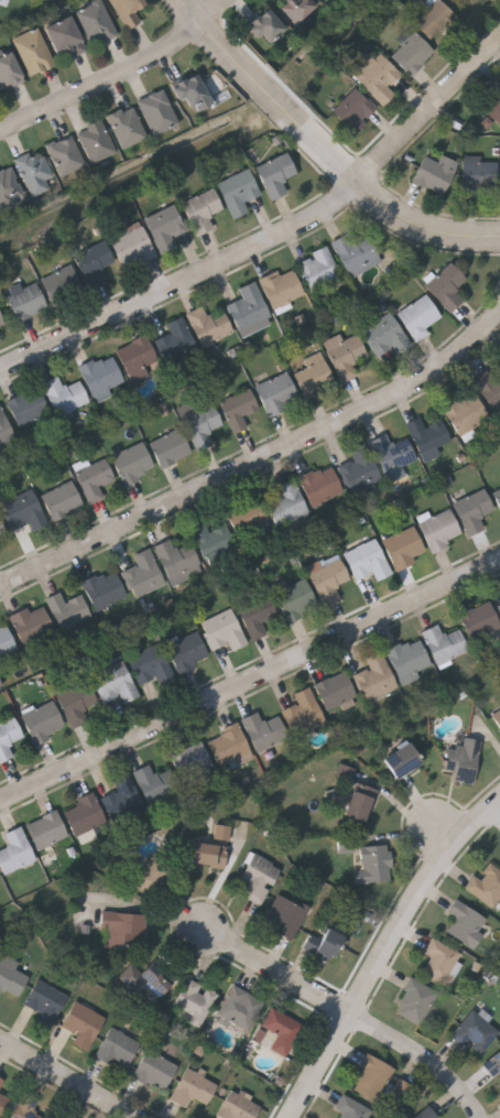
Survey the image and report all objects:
building: (327, 0)
building: (3, 2)
building: (296, 9)
building: (127, 11)
park: (478, 12)
building: (433, 17)
building: (95, 24)
building: (265, 29)
building: (65, 37)
building: (411, 51)
building: (32, 52)
building: (8, 69)
road: (119, 76)
building: (378, 77)
building: (191, 93)
building: (494, 101)
building: (352, 109)
building: (155, 112)
building: (124, 127)
building: (95, 141)
road: (325, 148)
building: (64, 155)
building: (33, 171)
building: (433, 171)
building: (274, 173)
building: (479, 175)
building: (8, 186)
building: (237, 191)
building: (200, 208)
building: (164, 226)
road: (273, 240)
building: (131, 246)
building: (354, 252)
building: (93, 261)
building: (316, 267)
building: (61, 283)
building: (446, 284)
building: (281, 285)
building: (25, 299)
building: (247, 305)
building: (417, 315)
building: (1, 322)
building: (208, 324)
building: (384, 334)
building: (175, 340)
building: (344, 354)
building: (137, 357)
building: (101, 375)
building: (313, 375)
building: (488, 387)
building: (275, 392)
building: (64, 394)
building: (26, 405)
building: (238, 408)
building: (465, 412)
building: (200, 424)
building: (4, 428)
building: (426, 433)
building: (169, 446)
building: (391, 452)
building: (131, 462)
road: (257, 464)
building: (358, 467)
building: (93, 478)
building: (319, 482)
building: (497, 496)
building: (61, 499)
building: (286, 502)
building: (23, 510)
building: (475, 511)
building: (246, 513)
building: (439, 528)
building: (2, 535)
building: (211, 539)
building: (403, 546)
building: (366, 558)
building: (176, 560)
building: (142, 573)
building: (327, 577)
building: (102, 588)
building: (293, 597)
building: (499, 606)
building: (66, 608)
building: (257, 614)
building: (479, 620)
building: (31, 622)
building: (221, 629)
building: (4, 640)
building: (443, 642)
building: (186, 650)
building: (407, 656)
building: (150, 664)
building: (374, 676)
road: (249, 677)
building: (112, 679)
building: (335, 693)
building: (75, 702)
building: (302, 712)
building: (497, 716)
building: (42, 719)
building: (263, 730)
building: (8, 735)
building: (228, 745)
building: (191, 759)
building: (401, 759)
building: (461, 760)
building: (346, 771)
building: (155, 784)
building: (122, 799)
building: (359, 801)
road: (498, 810)
building: (83, 813)
building: (45, 828)
building: (222, 833)
building: (14, 848)
building: (207, 854)
building: (373, 862)
building: (144, 868)
building: (256, 877)
building: (486, 882)
building: (285, 914)
building: (466, 922)
building: (122, 927)
building: (323, 937)
road: (385, 953)
building: (442, 959)
road: (279, 972)
building: (144, 977)
building: (10, 978)
building: (415, 998)
building: (194, 999)
building: (44, 1001)
building: (238, 1007)
building: (81, 1023)
building: (280, 1028)
building: (475, 1030)
building: (118, 1043)
road: (423, 1057)
building: (492, 1065)
building: (154, 1068)
building: (371, 1075)
building: (0, 1078)
road: (68, 1078)
building: (401, 1086)
building: (192, 1087)
building: (2, 1100)
building: (237, 1105)
building: (24, 1107)
building: (352, 1107)
building: (425, 1112)

